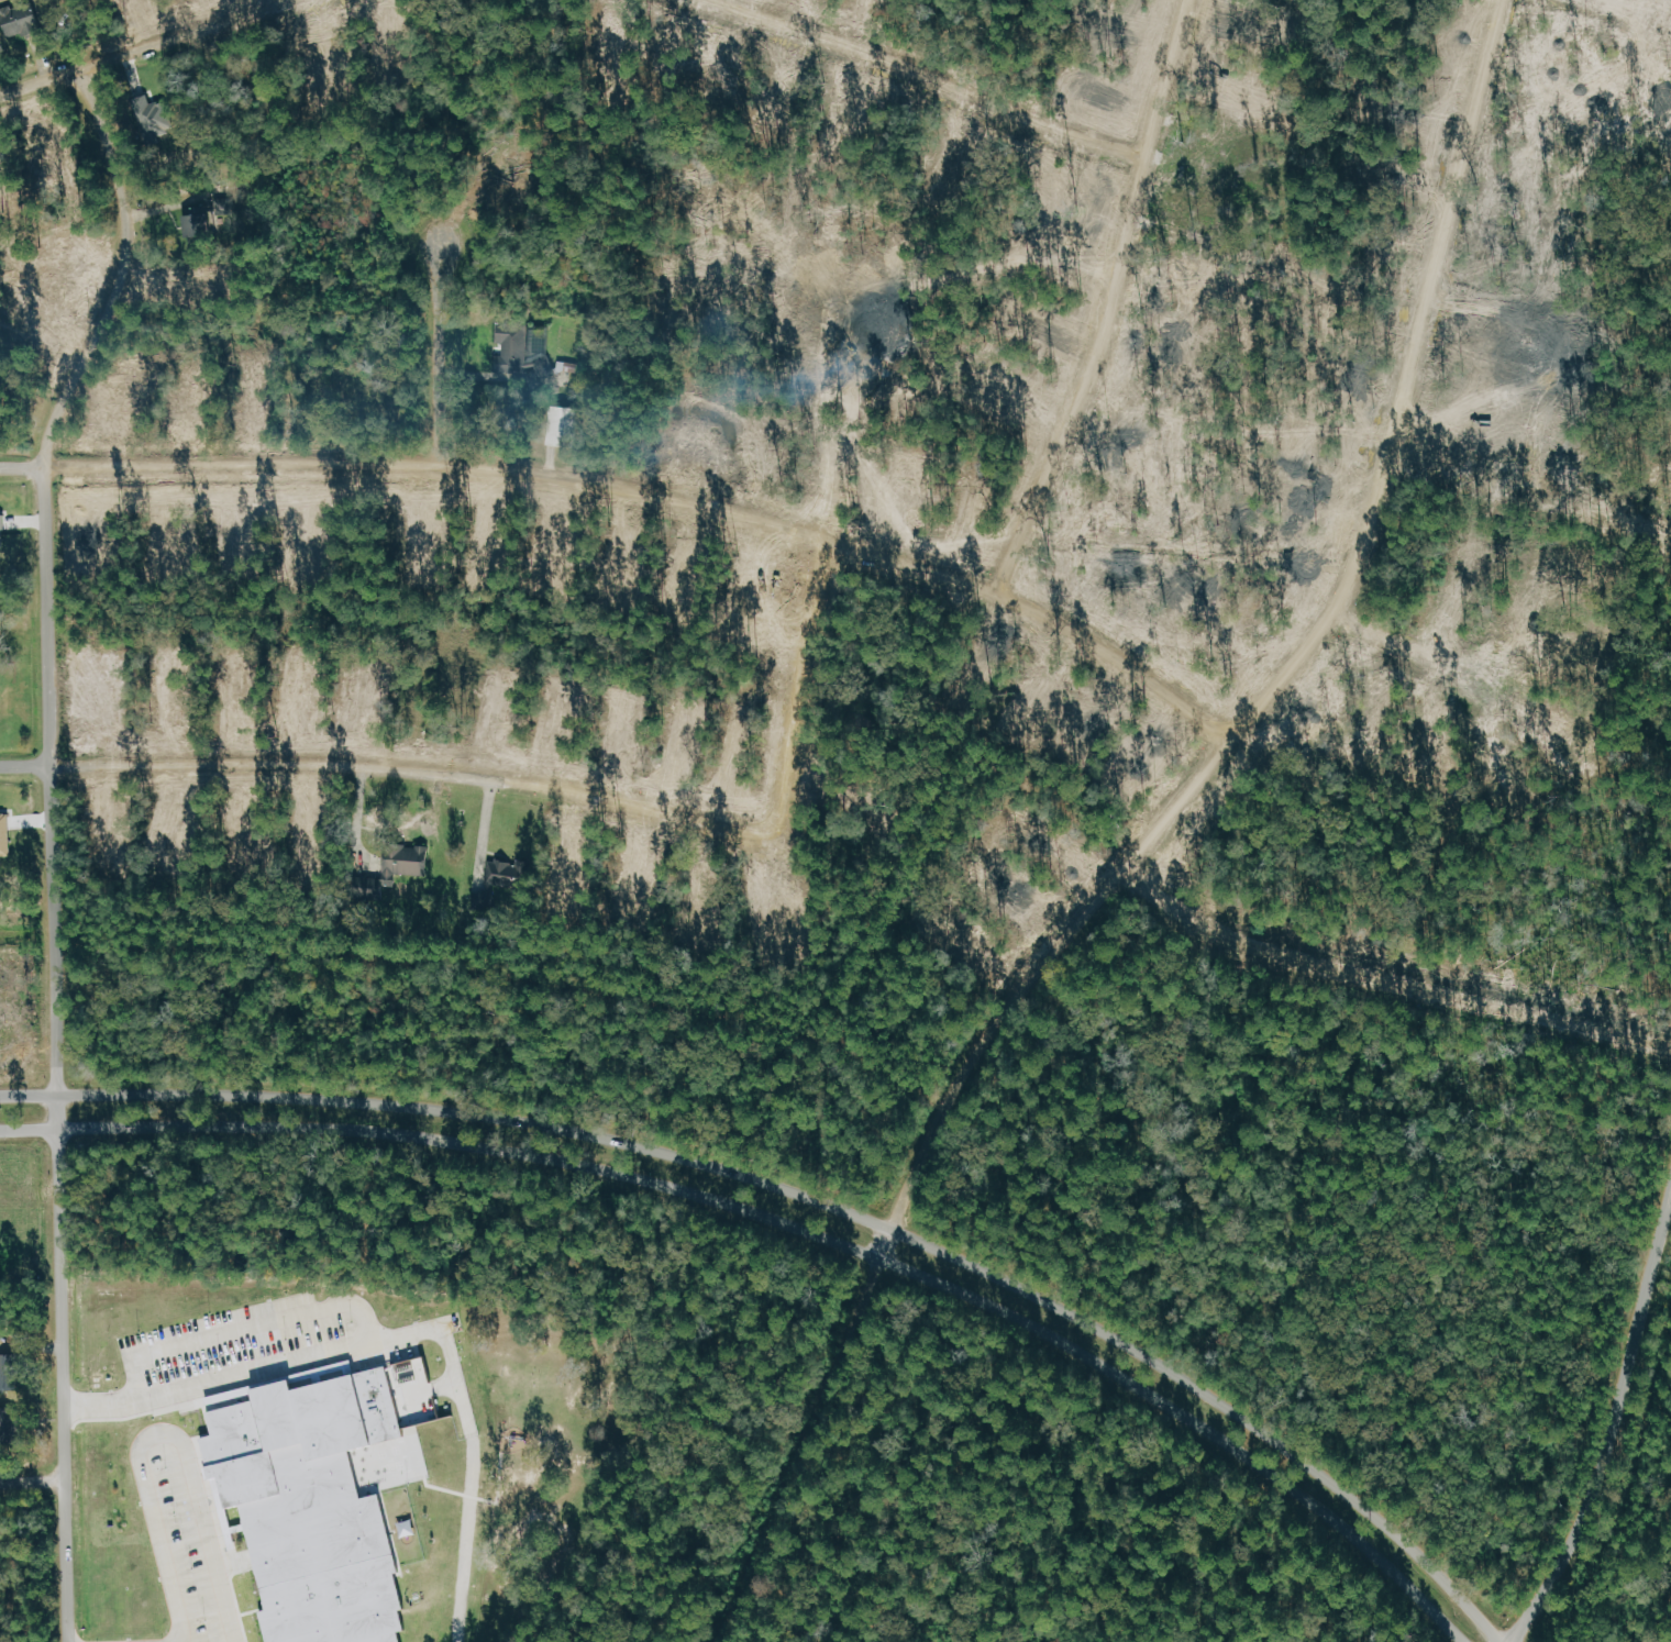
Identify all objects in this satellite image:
building: (21, 18)
road: (144, 49)
road: (928, 81)
building: (152, 118)
building: (222, 217)
road: (1113, 301)
road: (434, 353)
building: (511, 353)
road: (642, 488)
building: (2, 529)
road: (1408, 640)
road: (541, 792)
road: (483, 834)
road: (1147, 835)
building: (4, 839)
road: (54, 844)
building: (398, 866)
building: (507, 876)
road: (1384, 981)
road: (811, 1200)
road: (1669, 1216)
road: (788, 1222)
road: (245, 1332)
road: (409, 1333)
building: (8, 1424)
road: (1614, 1431)
road: (162, 1438)
road: (33, 1480)
building: (316, 1509)

